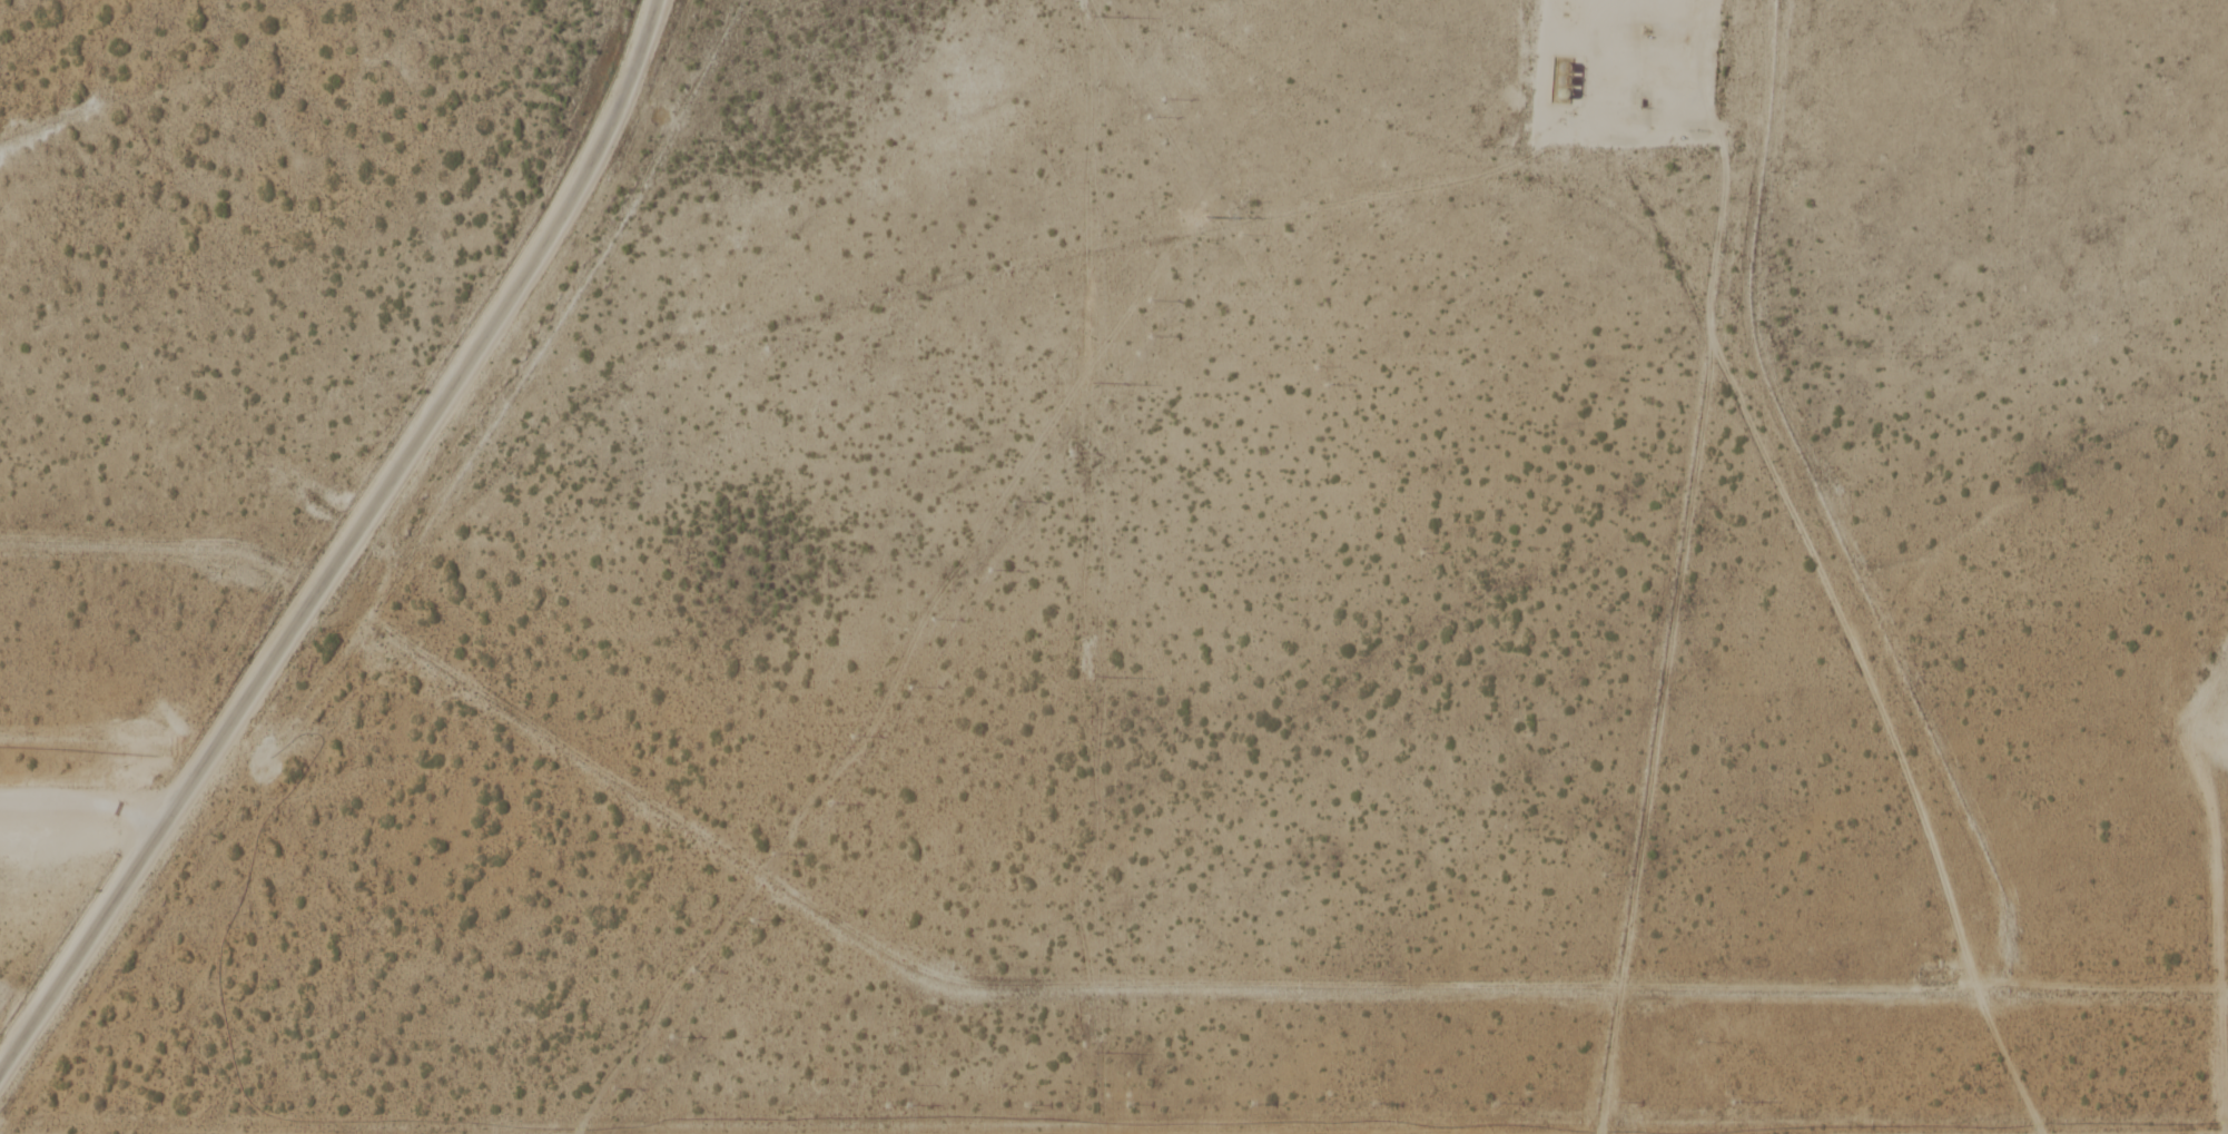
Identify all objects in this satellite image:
road: (1653, 27)
road: (348, 558)
road: (2208, 682)
road: (97, 800)
road: (2219, 906)

